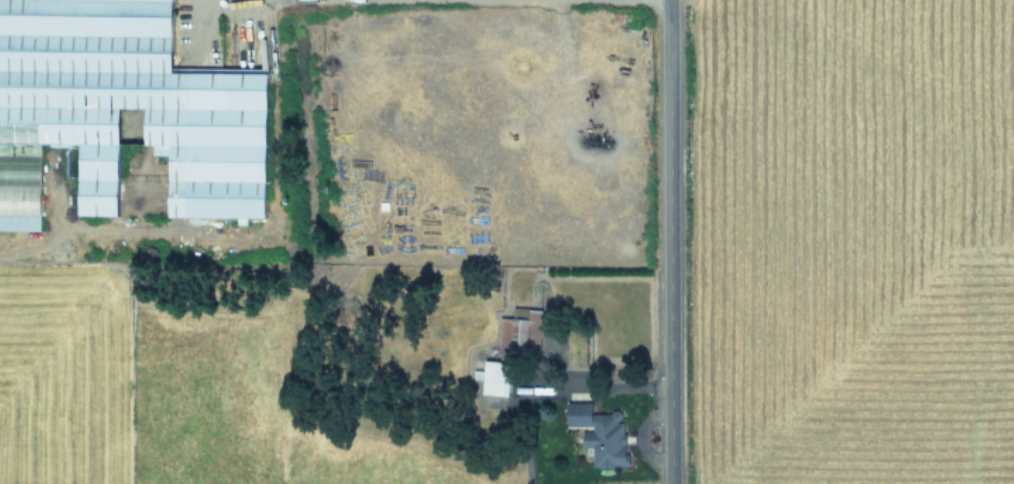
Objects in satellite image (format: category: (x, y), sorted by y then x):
road: (199, 15)
building: (18, 219)
crop: (309, 241)
road: (660, 242)
crop: (857, 242)
building: (519, 331)
building: (493, 377)
building: (598, 434)

